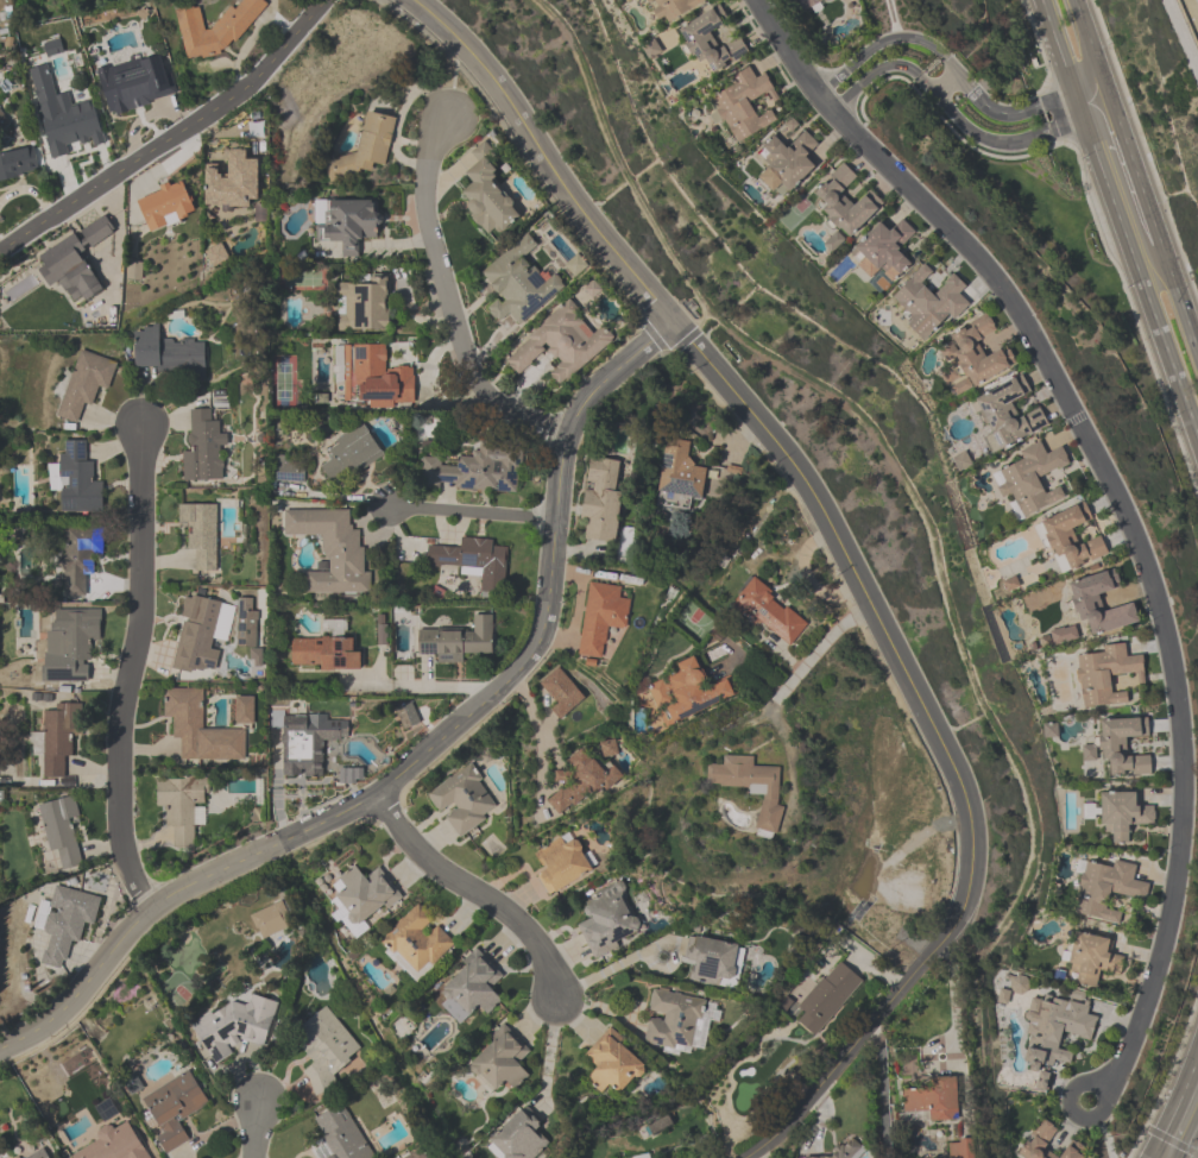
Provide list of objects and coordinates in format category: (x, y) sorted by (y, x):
building: (625, 0)
building: (648, 1)
building: (805, 4)
building: (671, 7)
building: (214, 27)
road: (884, 39)
building: (711, 42)
road: (1091, 49)
road: (881, 71)
building: (316, 78)
road: (945, 83)
building: (133, 84)
building: (744, 106)
road: (1023, 111)
building: (71, 130)
road: (172, 137)
road: (1015, 139)
building: (365, 149)
road: (543, 155)
building: (19, 164)
building: (786, 165)
road: (1134, 171)
building: (234, 182)
building: (487, 196)
building: (844, 203)
building: (165, 207)
road: (1117, 221)
building: (347, 222)
building: (887, 251)
building: (62, 256)
building: (519, 284)
road: (1179, 298)
road: (448, 301)
building: (928, 304)
building: (364, 306)
building: (561, 345)
building: (169, 355)
building: (976, 355)
building: (372, 377)
building: (84, 384)
building: (1008, 415)
building: (203, 448)
building: (349, 453)
building: (288, 470)
building: (477, 470)
building: (680, 473)
building: (76, 479)
building: (1030, 480)
road: (1115, 497)
building: (601, 499)
road: (474, 514)
building: (201, 535)
building: (1071, 540)
building: (333, 550)
building: (78, 556)
building: (473, 561)
road: (860, 586)
building: (1098, 605)
building: (770, 612)
building: (601, 618)
building: (246, 622)
building: (196, 636)
building: (76, 640)
building: (458, 641)
building: (323, 654)
road: (807, 661)
road: (130, 673)
building: (1105, 678)
road: (424, 686)
building: (688, 692)
building: (561, 694)
building: (244, 711)
building: (408, 716)
building: (198, 730)
building: (58, 738)
building: (309, 743)
road: (540, 745)
building: (1122, 748)
road: (424, 754)
building: (353, 775)
building: (579, 782)
building: (748, 786)
building: (462, 801)
building: (182, 807)
building: (1089, 811)
building: (1123, 814)
building: (61, 832)
building: (561, 863)
building: (1106, 889)
road: (473, 892)
building: (909, 893)
building: (365, 895)
building: (271, 920)
building: (607, 921)
building: (65, 923)
building: (415, 943)
building: (1091, 958)
building: (712, 962)
road: (616, 964)
building: (472, 988)
road: (951, 992)
building: (827, 997)
building: (676, 1021)
building: (235, 1028)
road: (866, 1030)
building: (1055, 1031)
building: (324, 1050)
road: (927, 1050)
road: (548, 1052)
building: (500, 1062)
building: (612, 1064)
road: (882, 1089)
building: (931, 1102)
road: (1177, 1108)
building: (174, 1109)
road: (1071, 1110)
road: (261, 1131)
building: (340, 1135)
building: (517, 1137)
road: (1190, 1141)
building: (1046, 1144)
building: (113, 1145)
building: (843, 1151)
building: (960, 1151)
building: (40, 1154)
building: (418, 1154)

